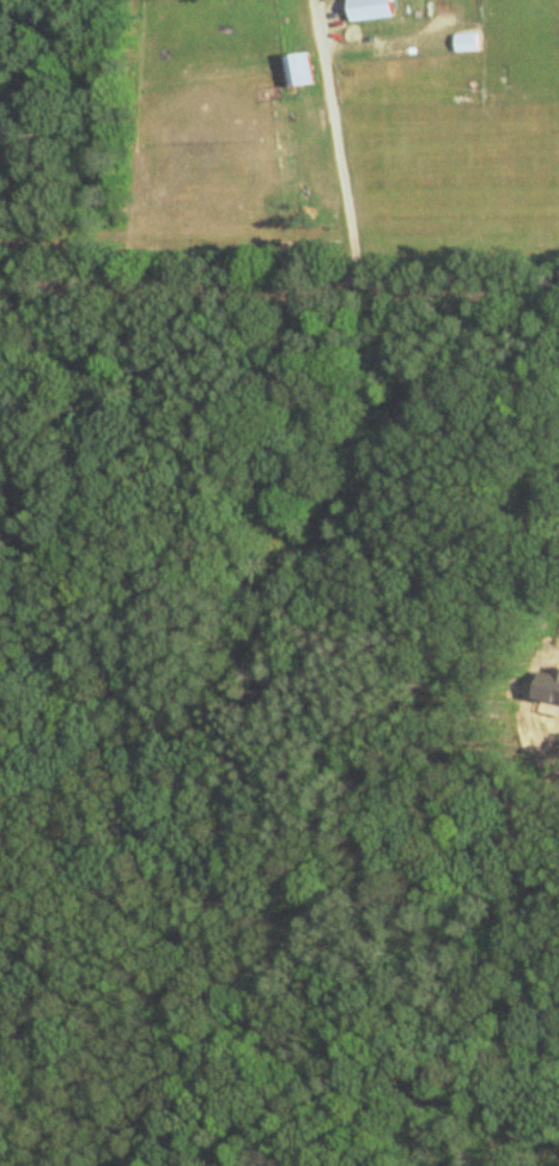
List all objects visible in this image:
building: (293, 69)
road: (342, 144)
road: (279, 287)

